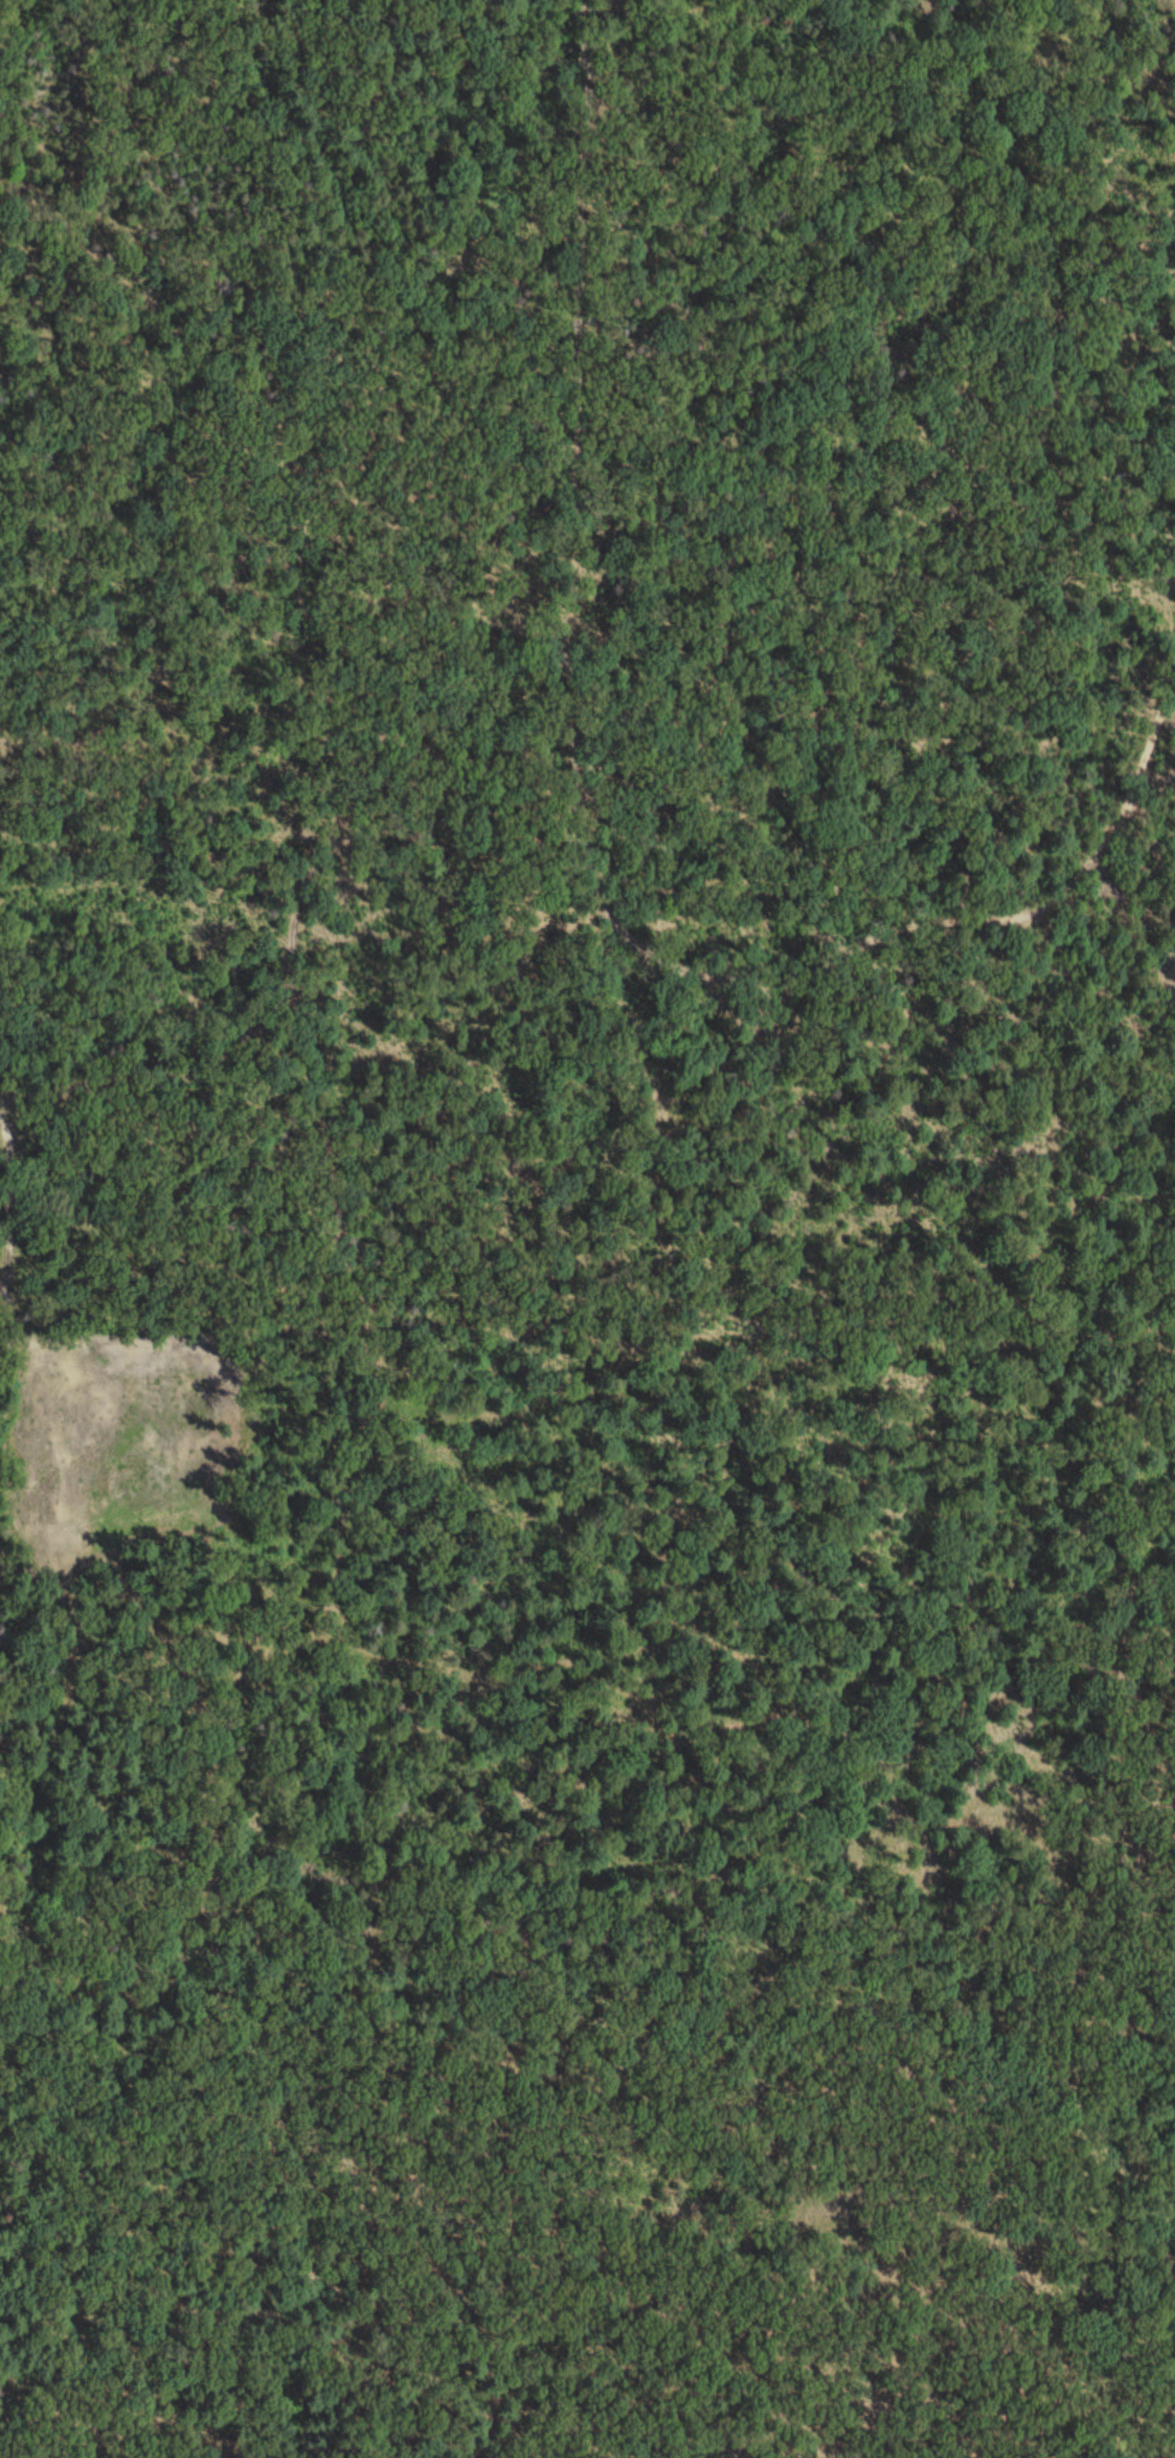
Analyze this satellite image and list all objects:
road: (11, 228)
road: (571, 317)

